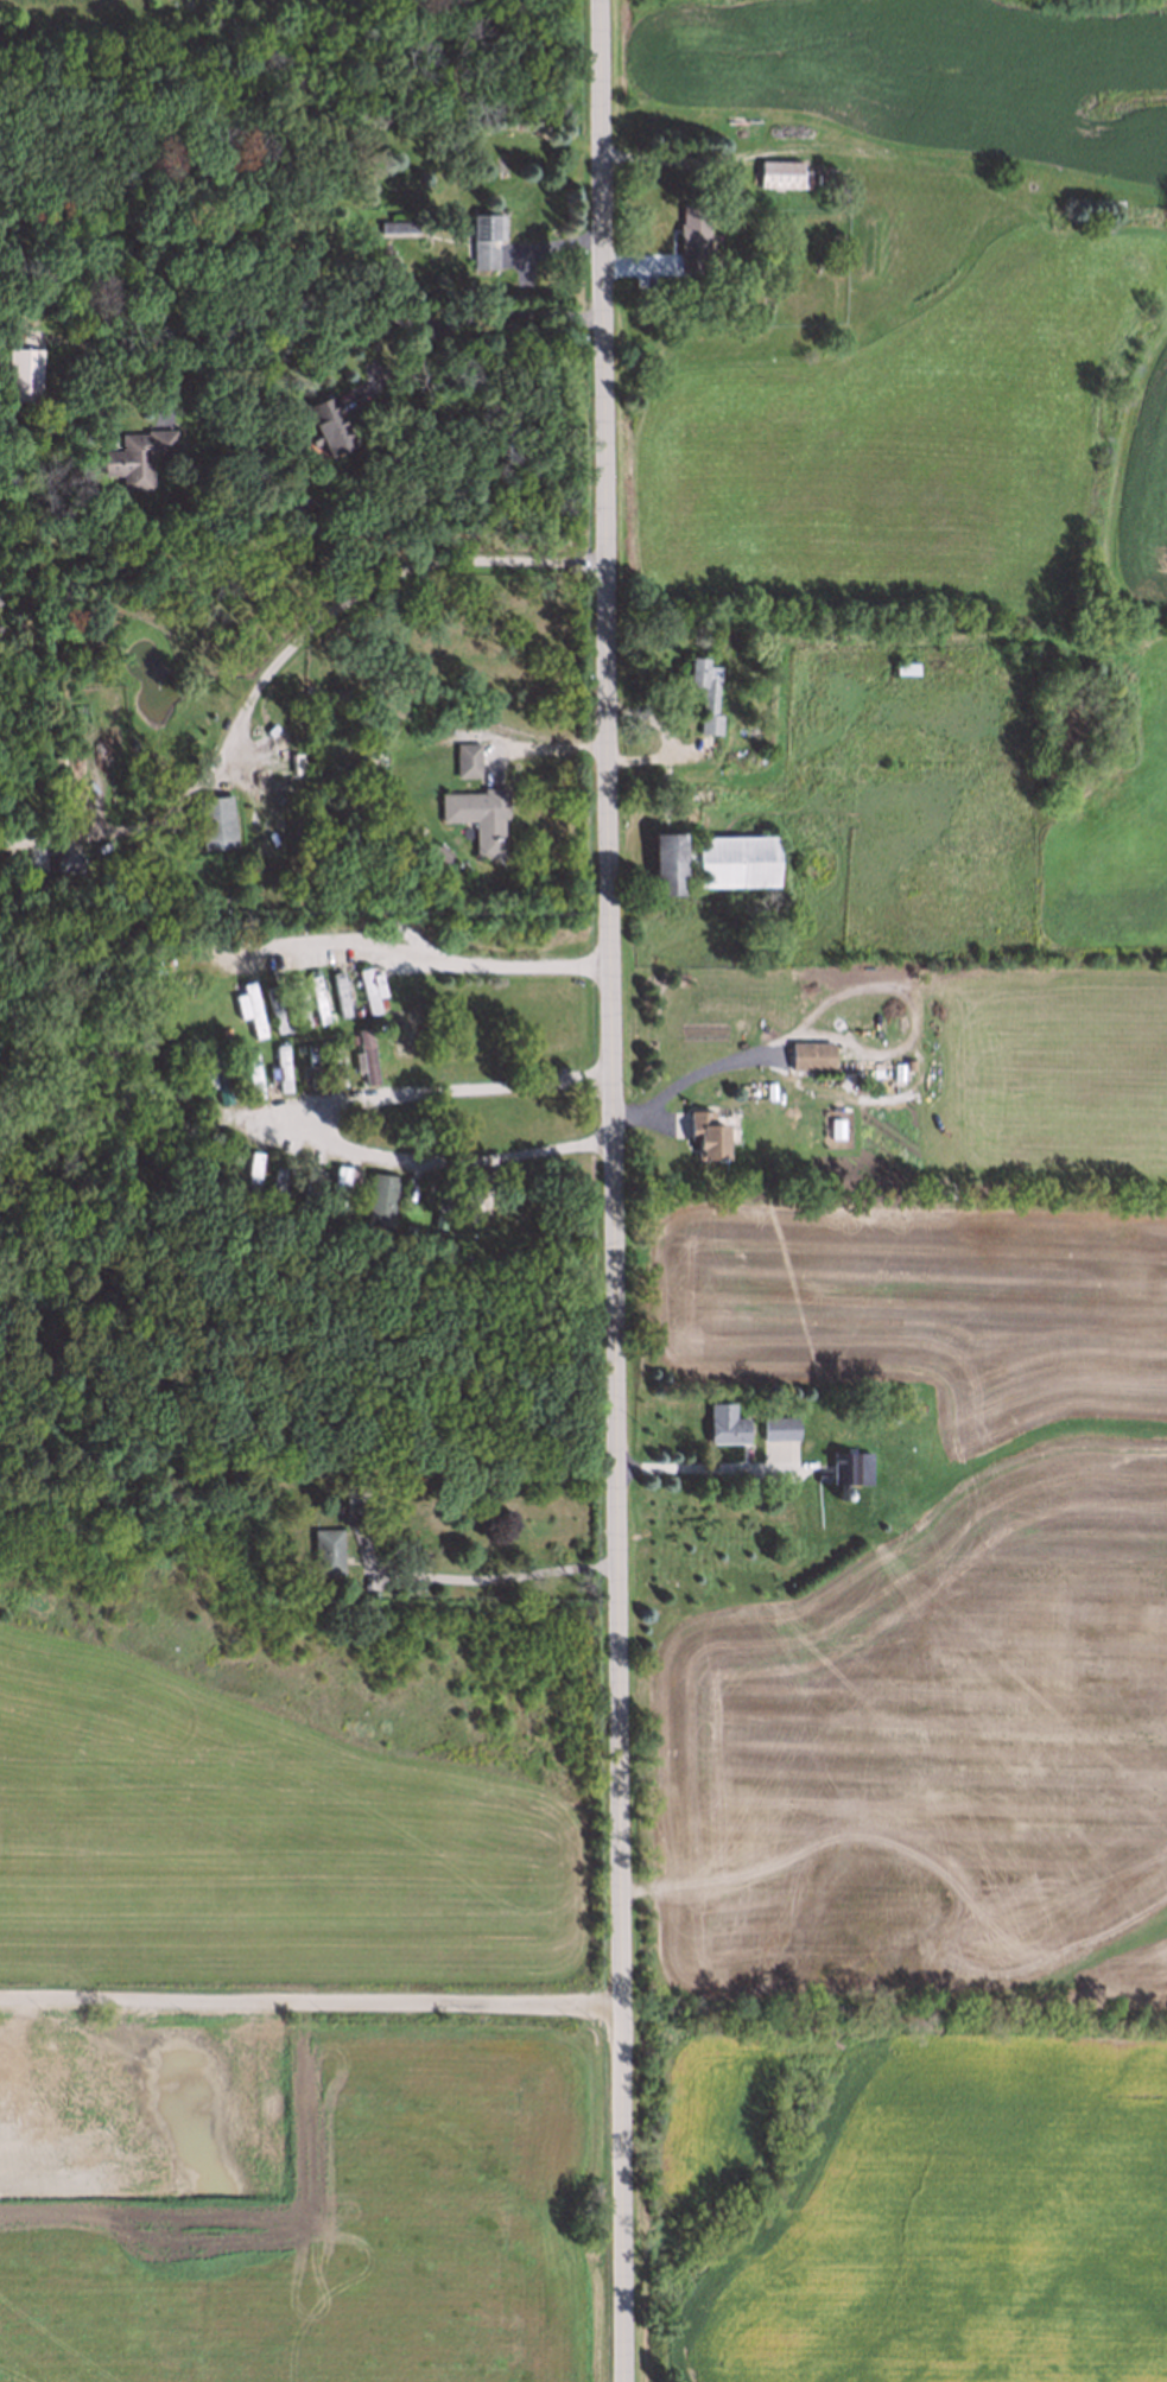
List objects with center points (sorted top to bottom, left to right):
building: (776, 174)
building: (397, 222)
building: (482, 235)
building: (690, 239)
road: (356, 322)
road: (407, 352)
building: (18, 371)
building: (321, 426)
building: (134, 453)
road: (272, 661)
building: (903, 665)
building: (702, 694)
building: (266, 739)
road: (529, 739)
building: (463, 756)
building: (381, 802)
building: (476, 814)
building: (209, 818)
building: (329, 821)
building: (440, 852)
building: (68, 858)
building: (732, 858)
building: (664, 864)
building: (226, 898)
road: (421, 955)
building: (369, 986)
building: (340, 991)
building: (317, 998)
building: (297, 1001)
building: (380, 1001)
building: (248, 1006)
building: (273, 1006)
building: (357, 1011)
building: (310, 1017)
building: (287, 1025)
building: (222, 1029)
building: (349, 1037)
building: (322, 1043)
building: (297, 1047)
building: (811, 1052)
building: (364, 1055)
building: (233, 1056)
building: (167, 1060)
building: (336, 1061)
building: (309, 1065)
building: (280, 1066)
building: (249, 1072)
building: (215, 1074)
road: (683, 1079)
building: (183, 1120)
road: (306, 1122)
building: (708, 1128)
building: (249, 1177)
building: (274, 1186)
building: (309, 1186)
building: (336, 1188)
building: (410, 1190)
road: (603, 1190)
building: (465, 1196)
building: (379, 1198)
building: (442, 1202)
building: (436, 1219)
building: (406, 1228)
building: (914, 1405)
building: (890, 1416)
building: (724, 1423)
building: (775, 1429)
building: (286, 1467)
building: (846, 1468)
road: (706, 1469)
building: (818, 1474)
building: (843, 1497)
building: (354, 1504)
building: (326, 1549)
road: (493, 1576)
road: (310, 2005)

